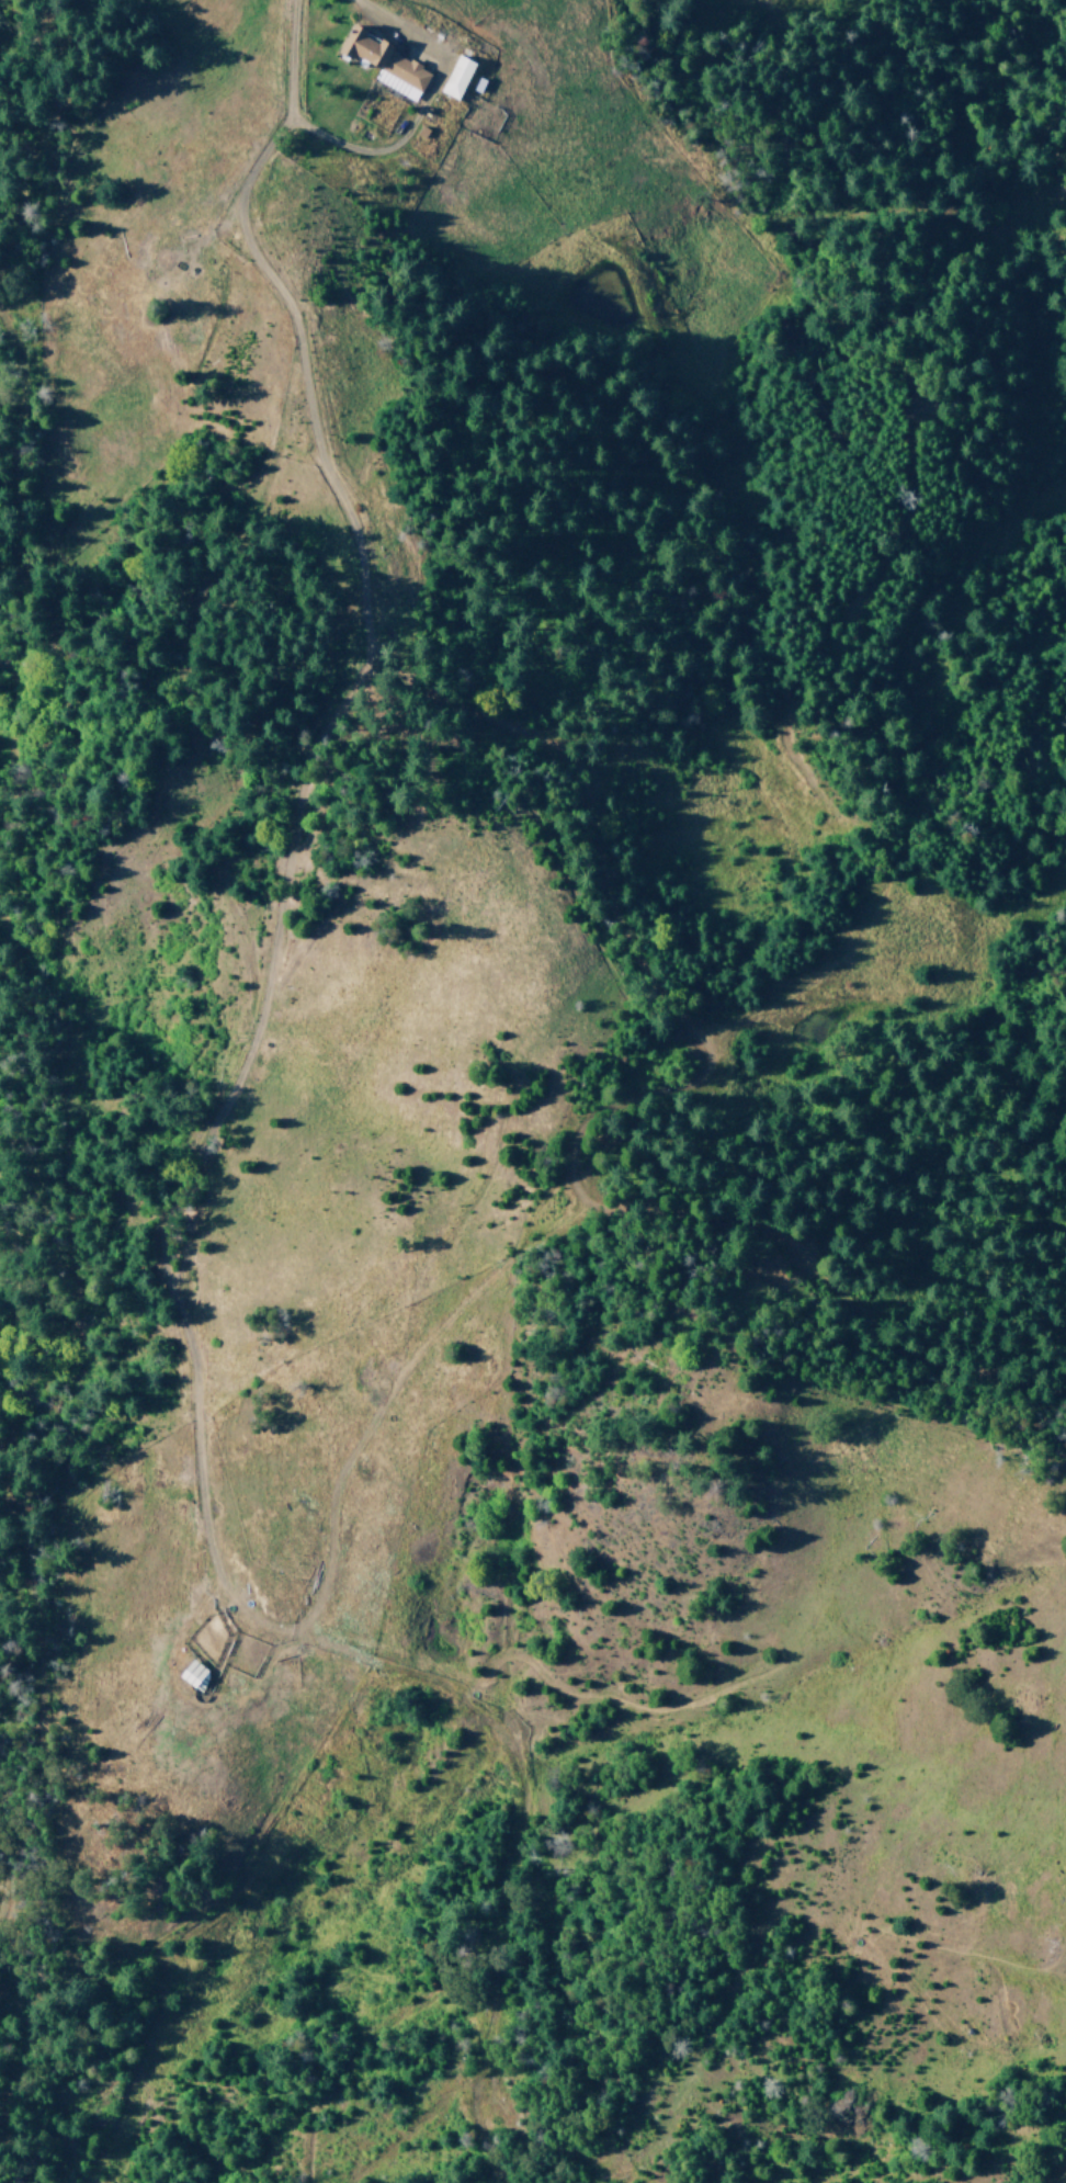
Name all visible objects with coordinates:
building: (386, 63)
building: (458, 77)
road: (287, 825)
building: (195, 1675)

